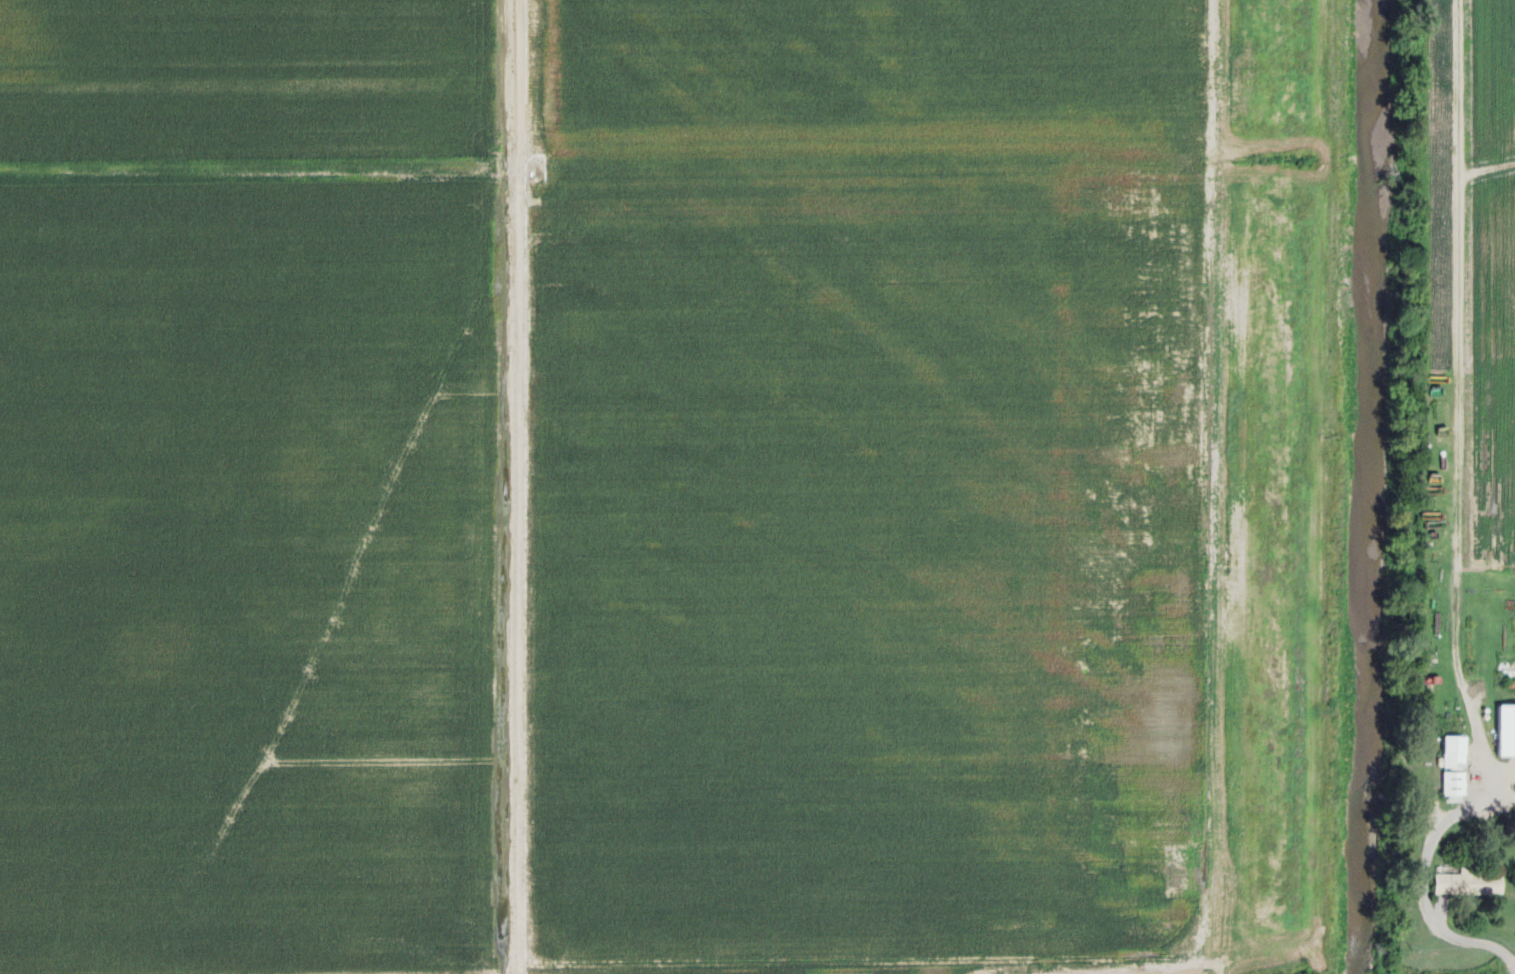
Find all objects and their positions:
river: (1362, 486)
road: (1457, 531)
road: (1440, 669)
building: (1505, 729)
building: (1465, 883)

